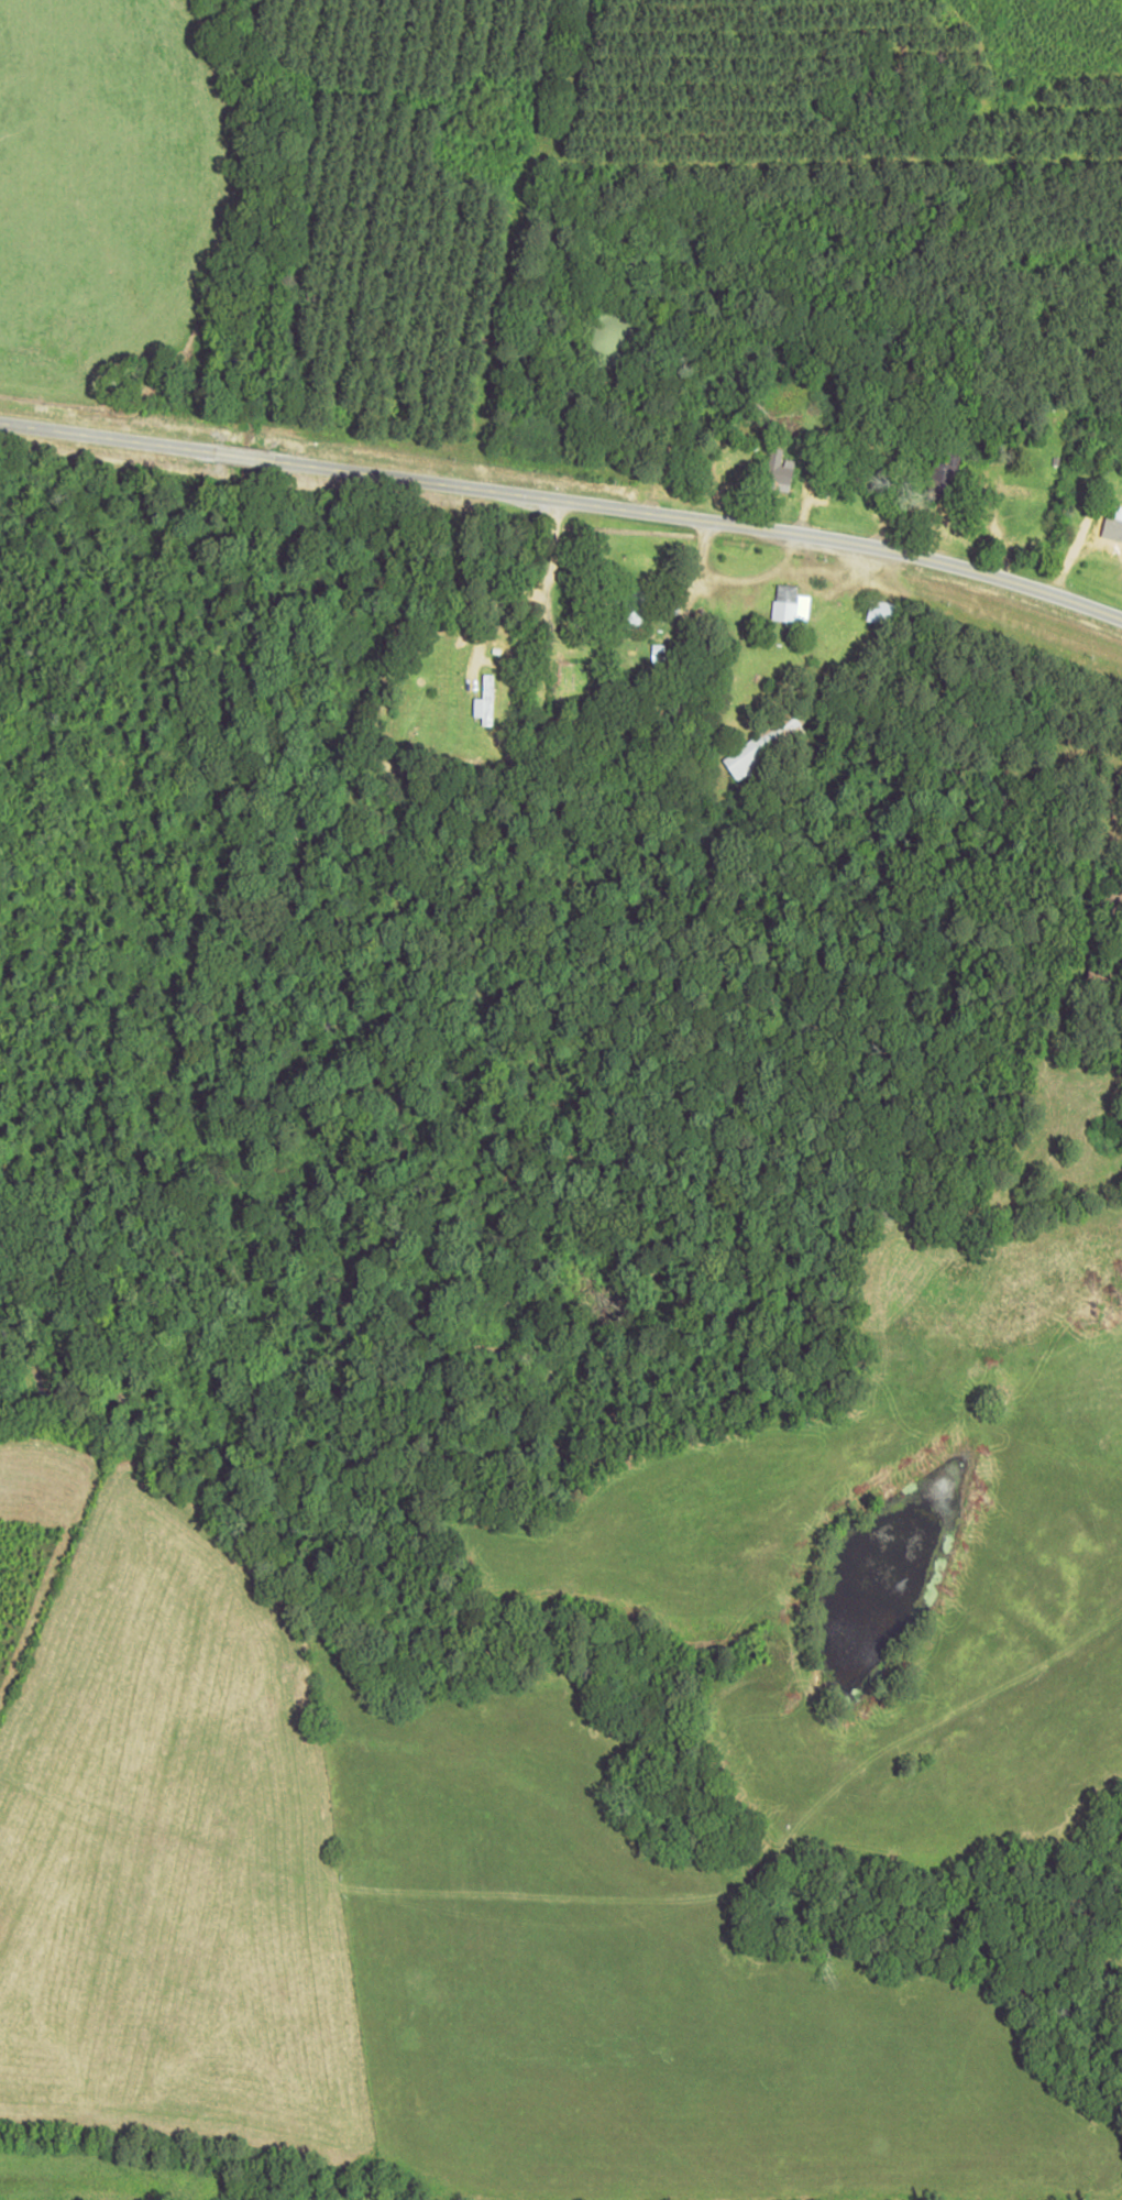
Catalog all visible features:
building: (779, 470)
road: (564, 502)
building: (1112, 518)
building: (790, 604)
building: (634, 608)
building: (882, 611)
building: (485, 700)
building: (763, 746)

